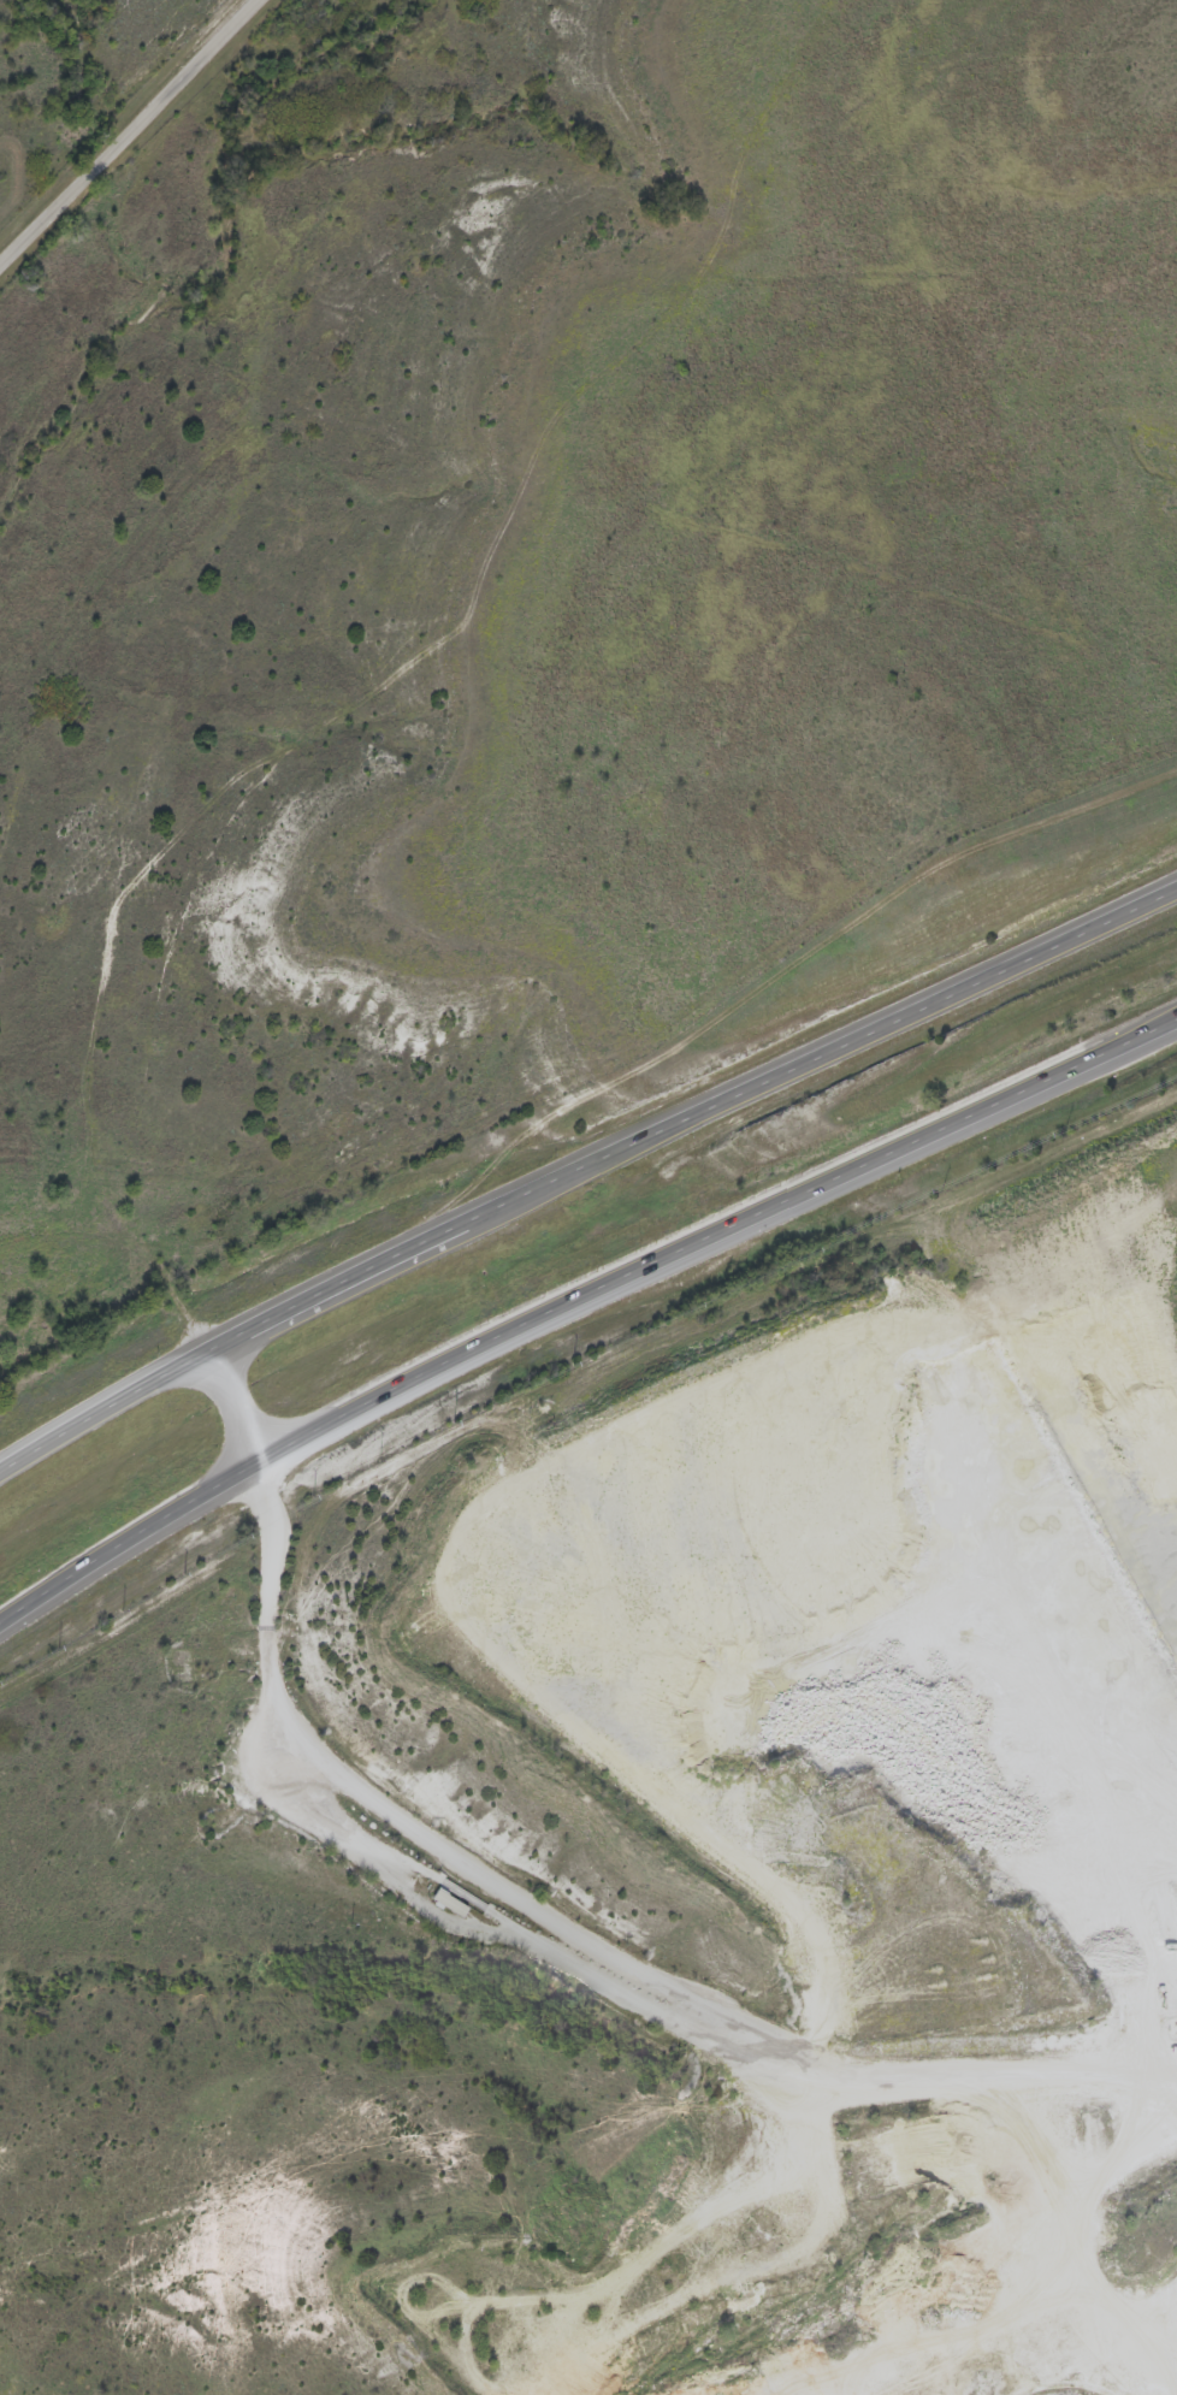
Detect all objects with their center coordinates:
road: (125, 125)
road: (582, 1164)
road: (576, 1294)
road: (232, 1402)
road: (1170, 2247)

